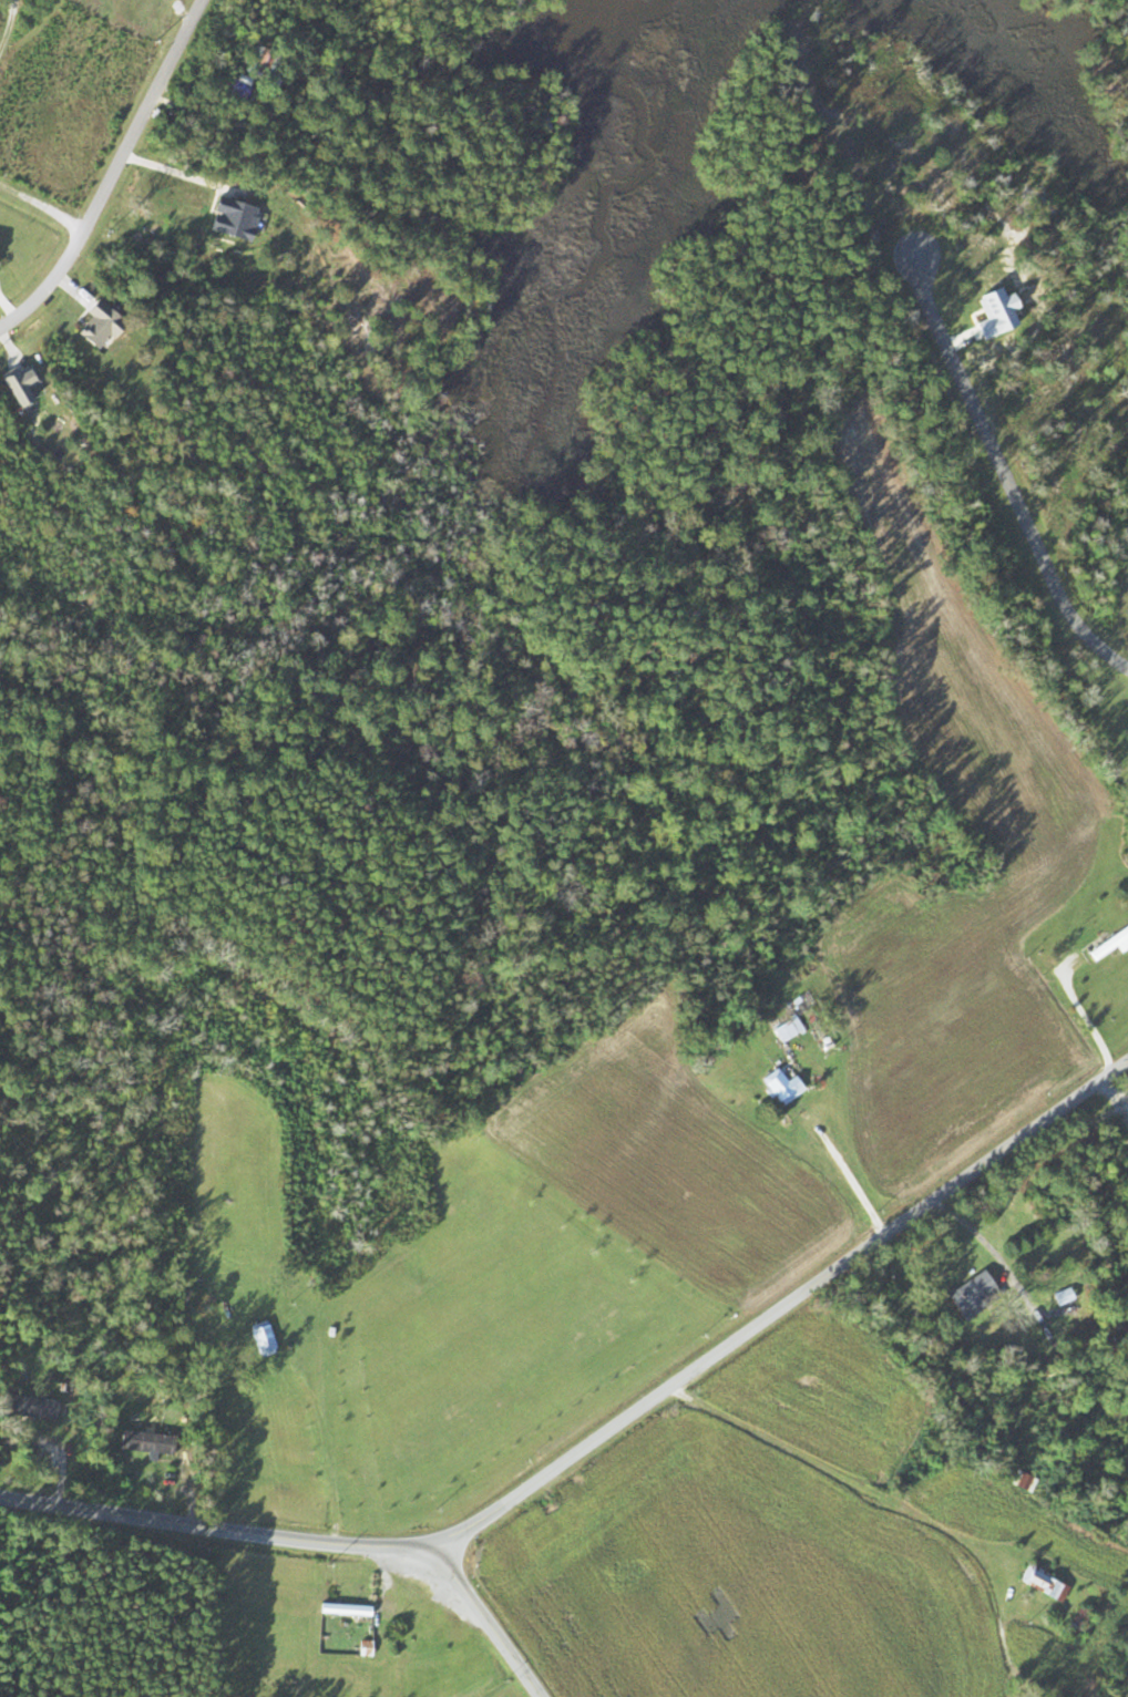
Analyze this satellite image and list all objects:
road: (113, 173)
road: (1005, 471)
building: (789, 1026)
building: (778, 1086)
building: (971, 1295)
building: (1062, 1296)
road: (782, 1303)
building: (260, 1335)
building: (28, 1406)
building: (145, 1442)
building: (1018, 1480)
road: (861, 1487)
road: (217, 1529)
building: (1043, 1583)
building: (343, 1608)
road: (489, 1623)

